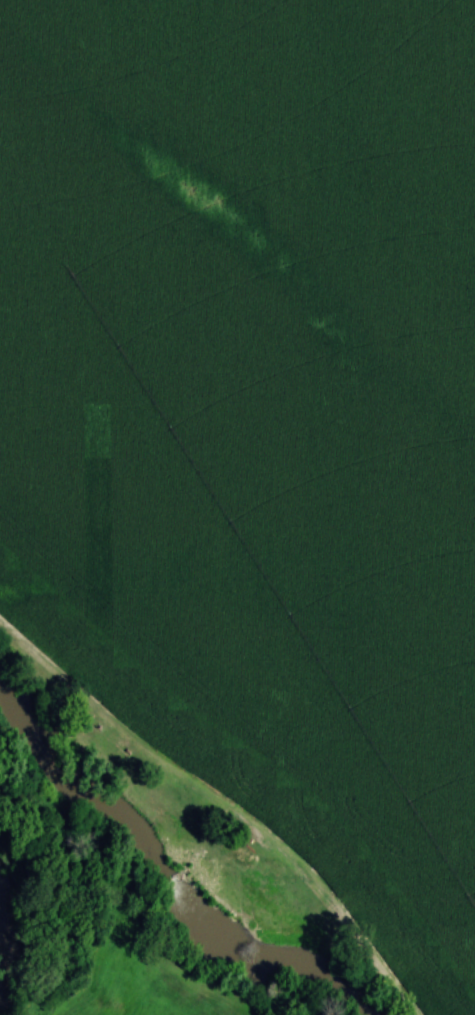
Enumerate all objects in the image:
river: (166, 870)
river: (4, 929)

